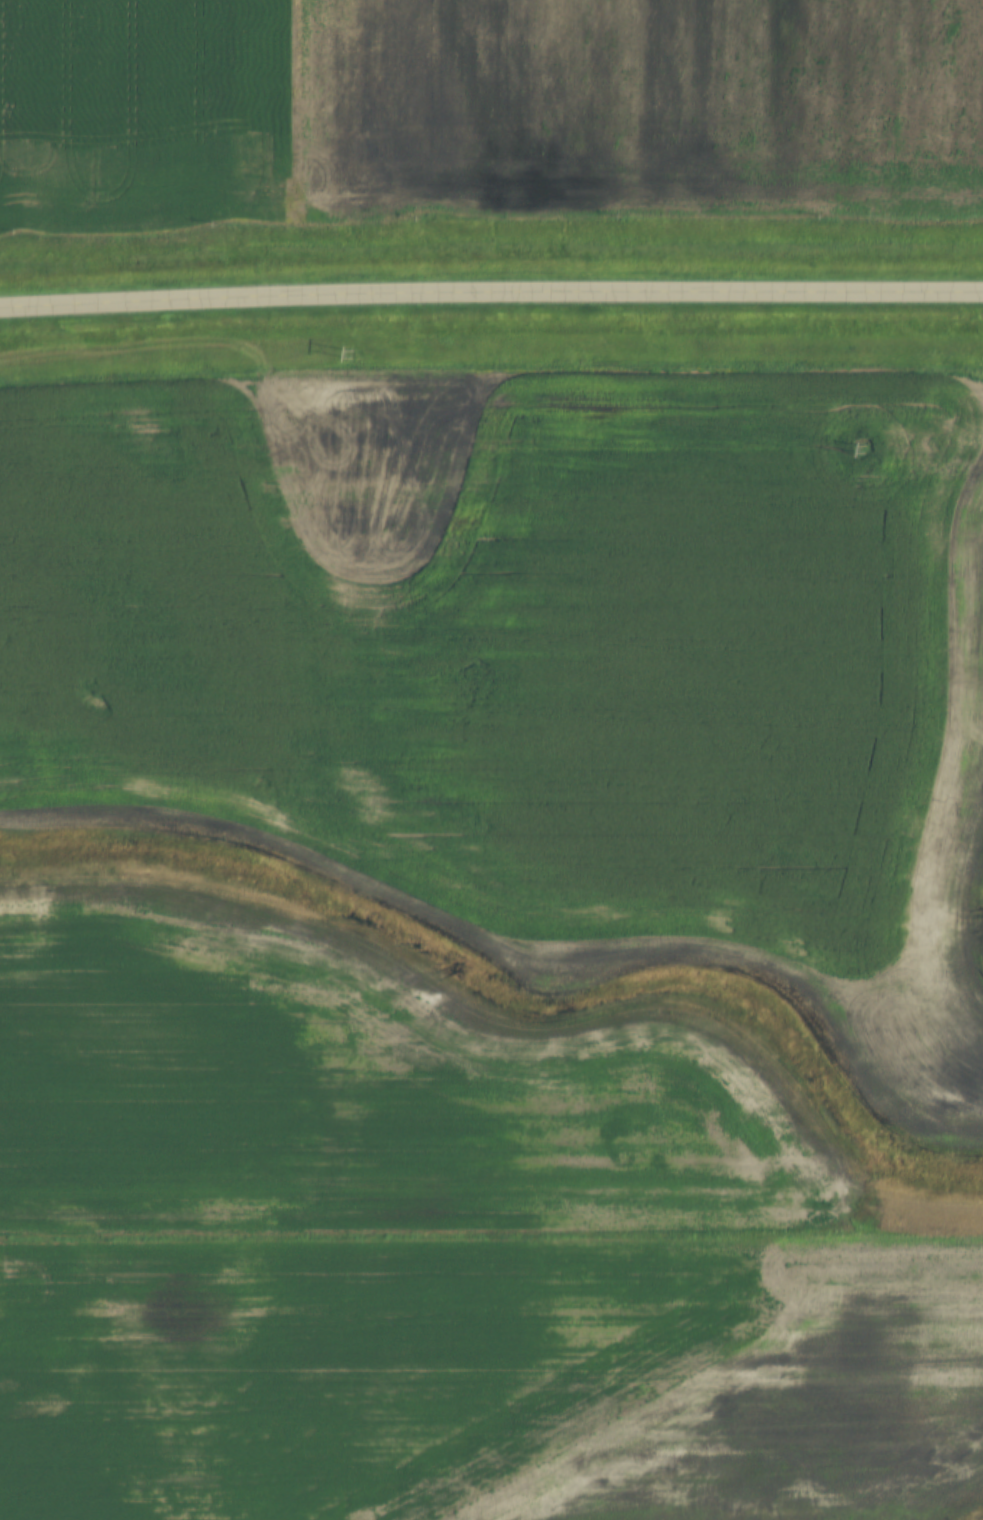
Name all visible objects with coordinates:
crop: (485, 110)
road: (491, 292)
power tower: (355, 355)
power tower: (867, 451)
crop: (491, 803)
crop: (488, 1383)

